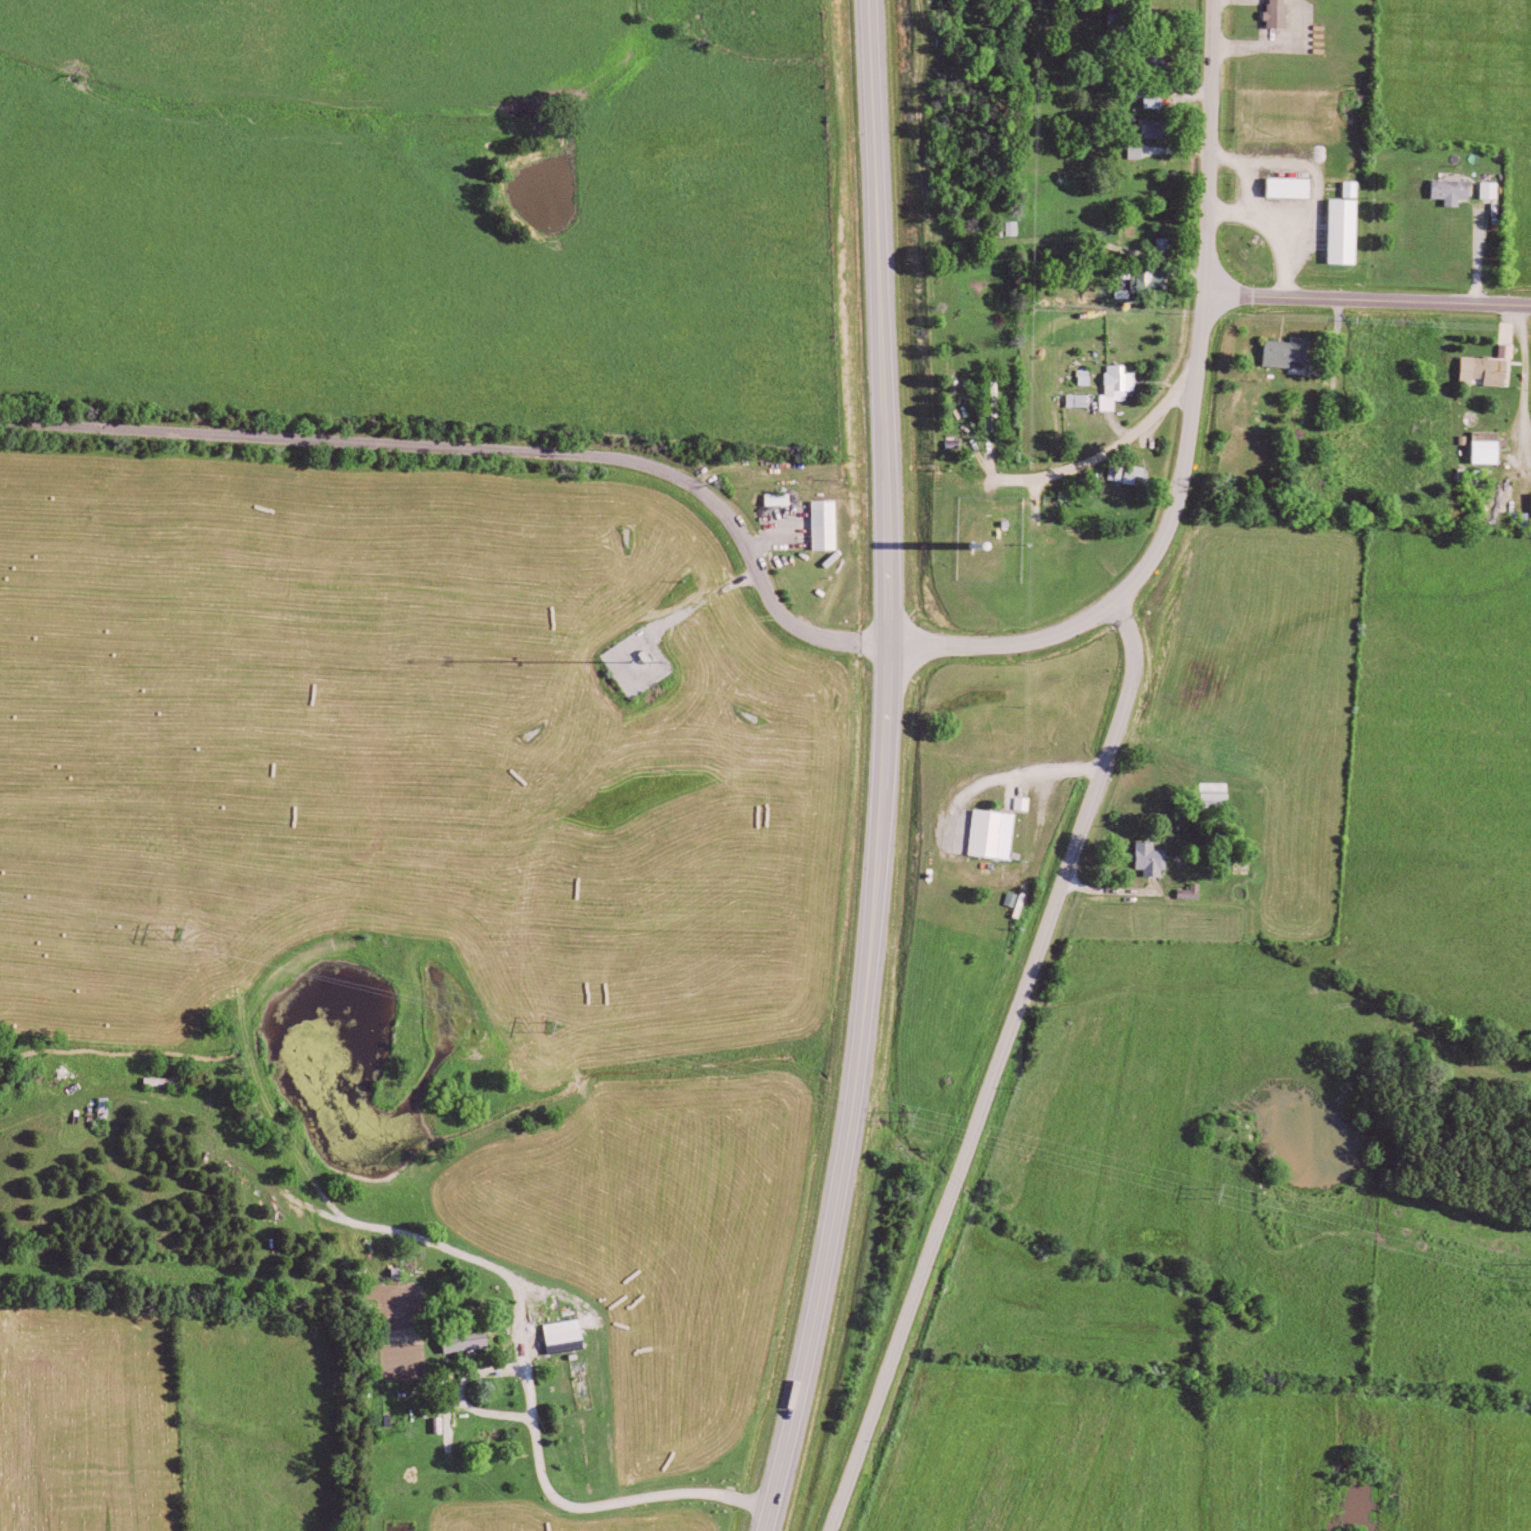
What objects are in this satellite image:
building: (1281, 14)
road: (1274, 49)
building: (1157, 61)
building: (1149, 90)
building: (1158, 103)
building: (1157, 128)
road: (1210, 147)
building: (1140, 151)
road: (1320, 182)
building: (1294, 187)
building: (1494, 190)
building: (1456, 191)
building: (1349, 226)
road: (1100, 244)
building: (1154, 282)
road: (1368, 299)
building: (1511, 350)
building: (1290, 352)
building: (1489, 371)
road: (1525, 383)
building: (1121, 386)
building: (1083, 400)
building: (995, 405)
road: (1128, 438)
building: (1491, 448)
road: (485, 453)
road: (882, 455)
building: (1132, 474)
building: (782, 499)
road: (1005, 510)
building: (829, 525)
road: (1148, 569)
building: (1219, 795)
building: (1027, 803)
building: (997, 834)
building: (1155, 859)
building: (1195, 892)
power tower: (176, 939)
power tower: (549, 1032)
road: (999, 1064)
power tower: (907, 1121)
power tower: (1212, 1195)
road: (828, 1223)
building: (569, 1335)
building: (470, 1339)

